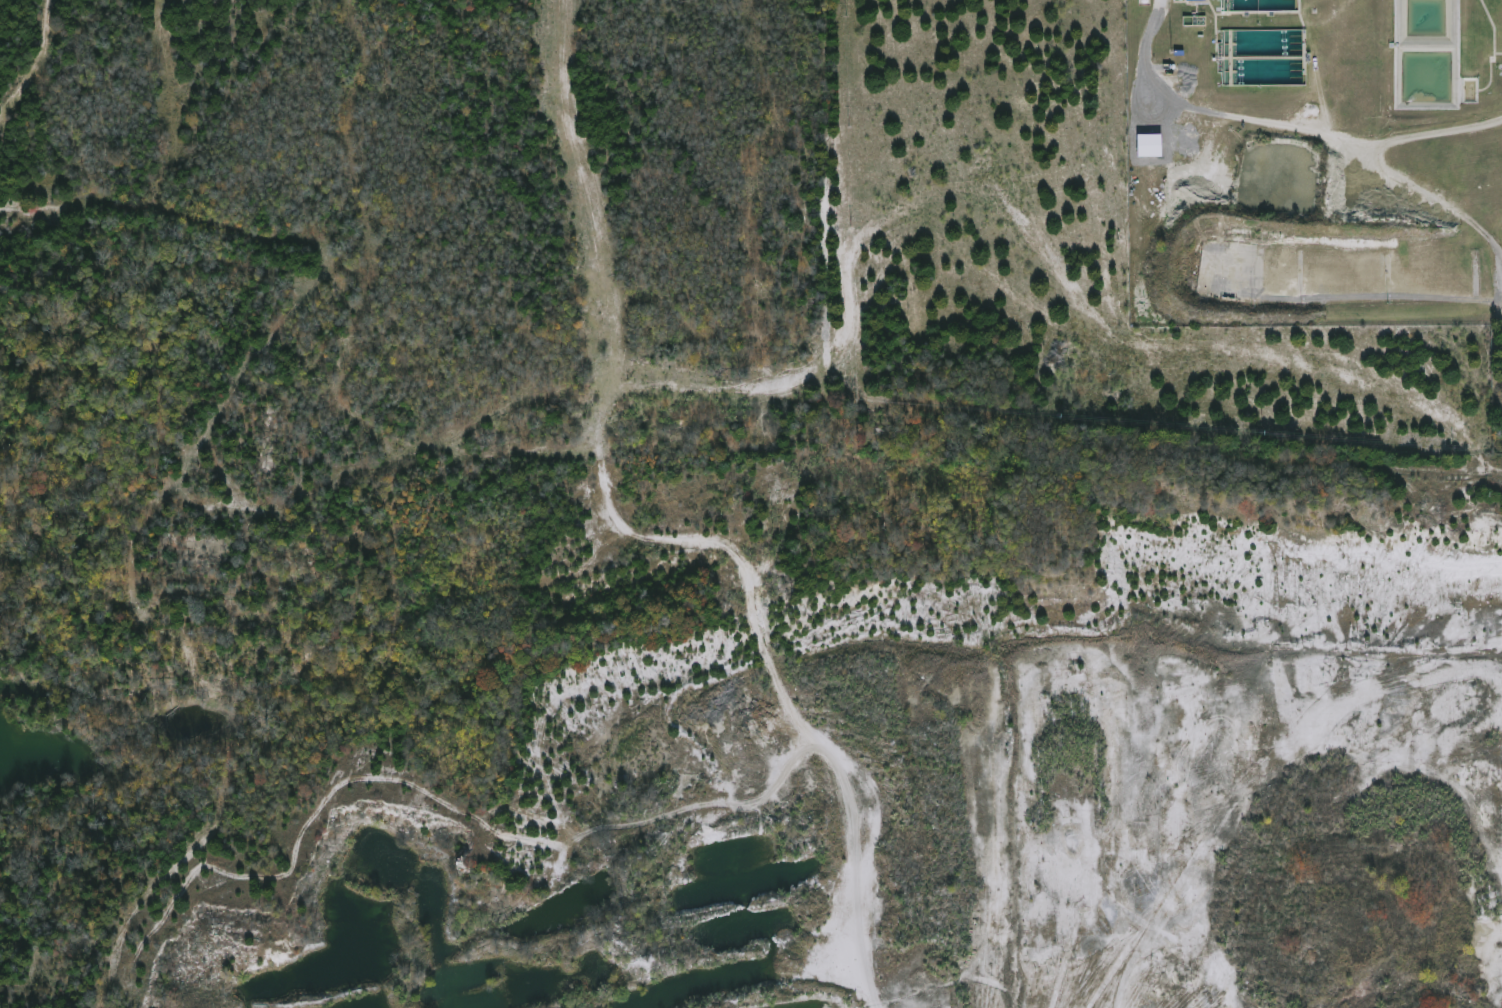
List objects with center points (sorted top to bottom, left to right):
building: (1193, 0)
road: (1151, 32)
road: (1313, 137)
road: (575, 188)
road: (825, 222)
road: (1177, 456)
road: (731, 552)

